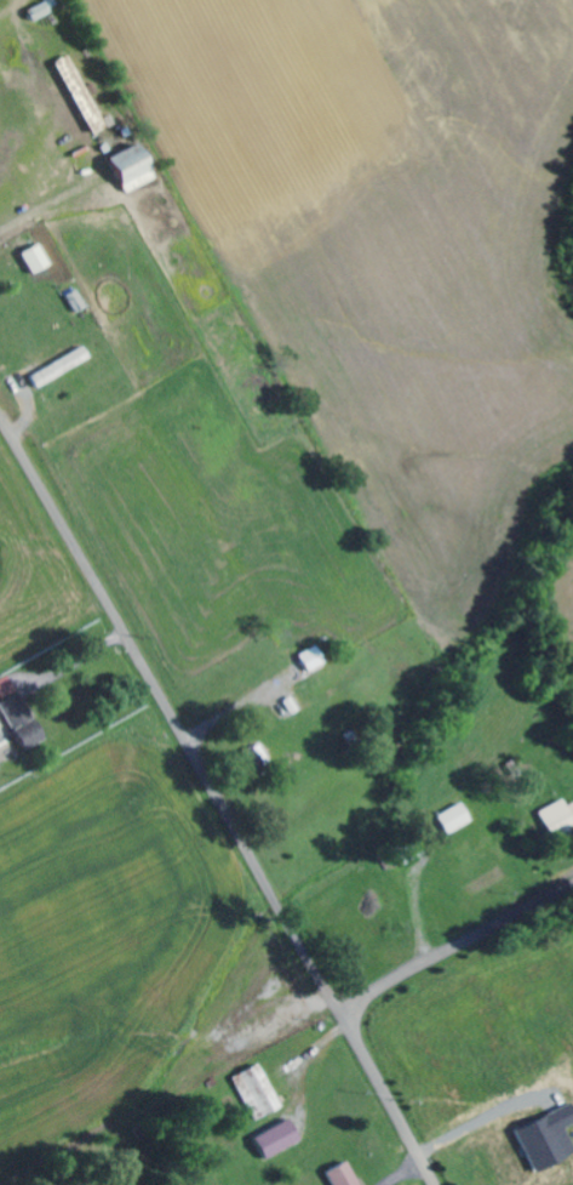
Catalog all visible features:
building: (45, 7)
building: (80, 91)
building: (134, 167)
building: (38, 258)
building: (62, 366)
building: (314, 659)
building: (7, 686)
road: (172, 712)
building: (24, 720)
building: (256, 759)
building: (558, 817)
building: (458, 819)
road: (457, 948)
building: (259, 1093)
road: (391, 1099)
building: (280, 1139)
building: (550, 1139)
building: (344, 1175)

